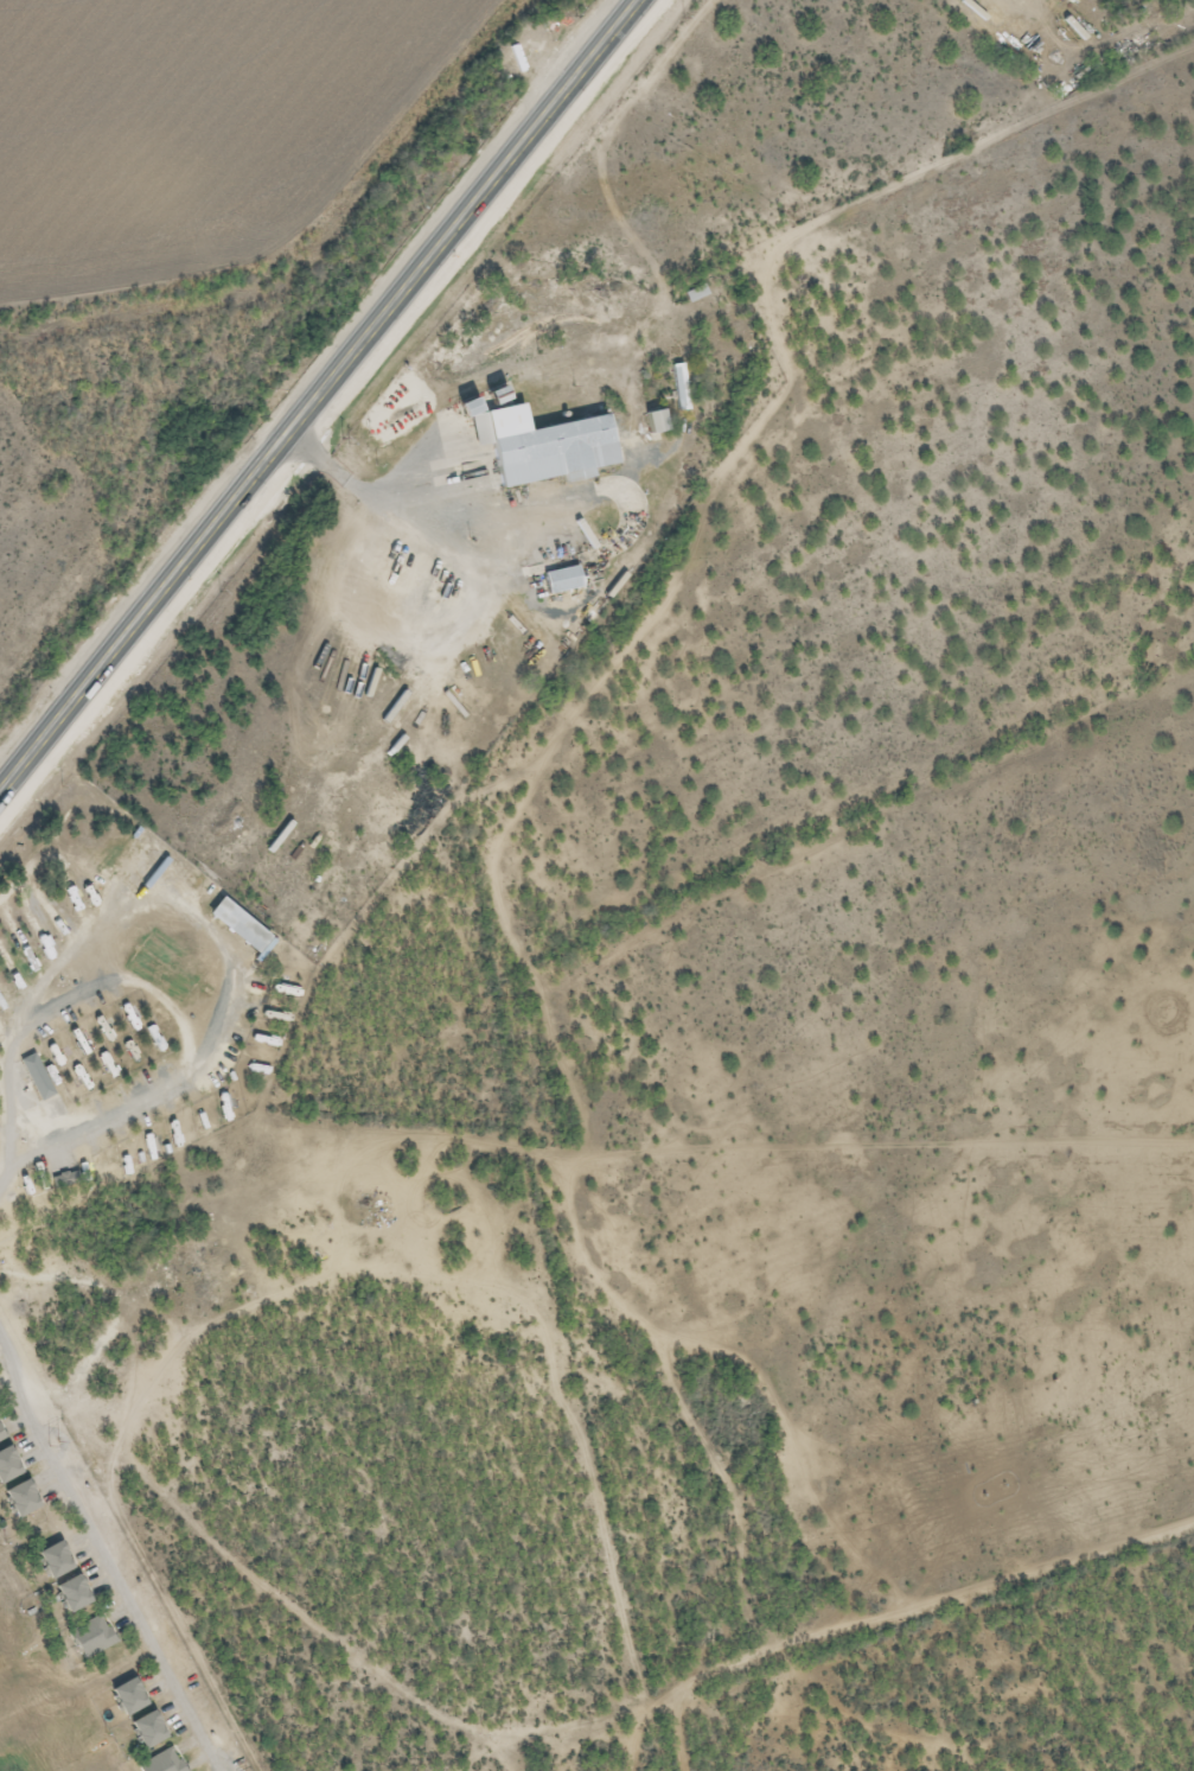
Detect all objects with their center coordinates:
building: (694, 295)
building: (678, 389)
road: (320, 396)
building: (653, 423)
building: (539, 448)
building: (561, 582)
building: (518, 655)
power tower: (55, 1444)

